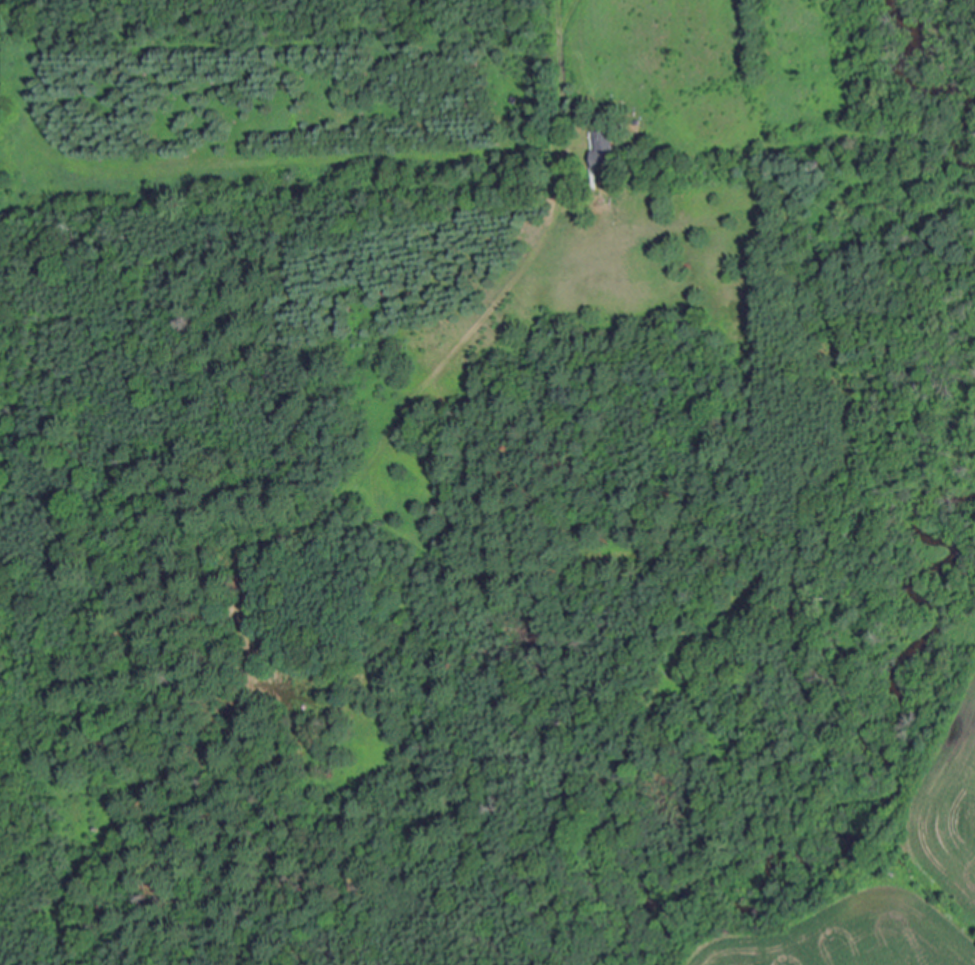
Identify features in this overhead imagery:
river: (928, 98)
building: (603, 150)
river: (851, 831)

